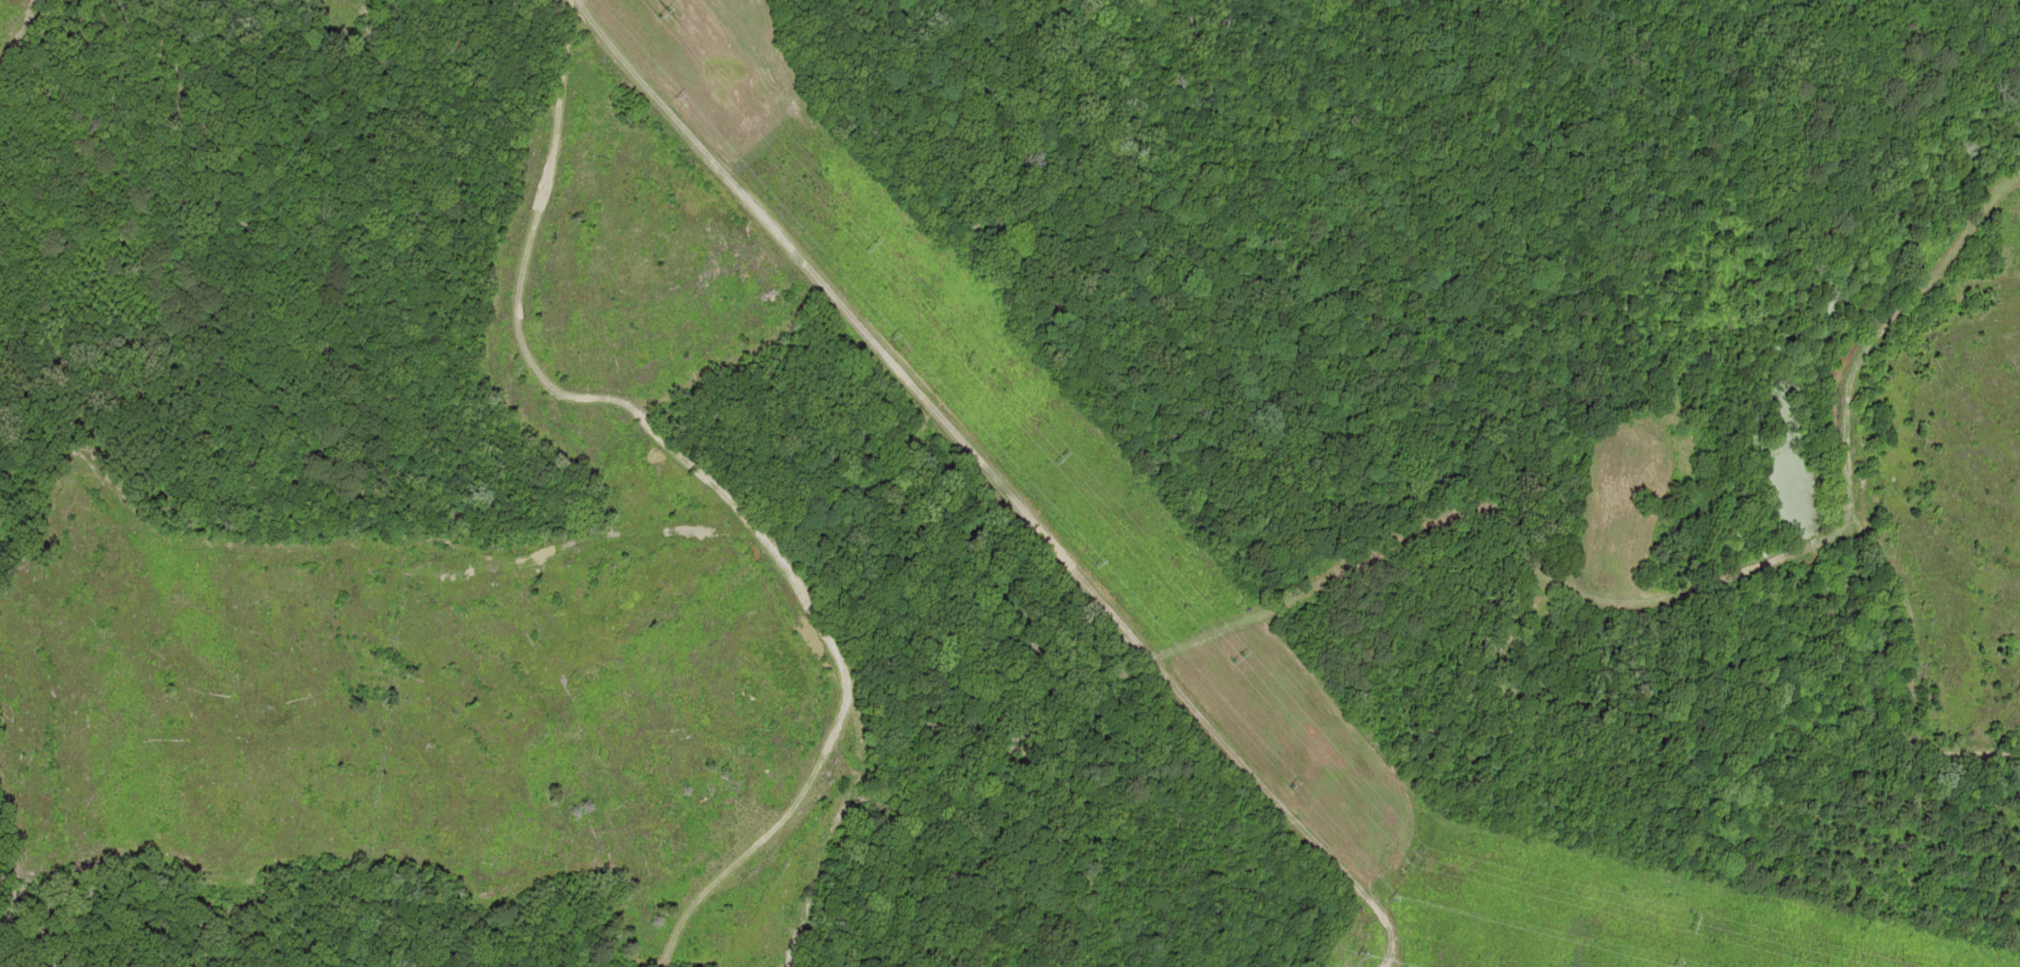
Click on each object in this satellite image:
power tower: (1382, 894)

